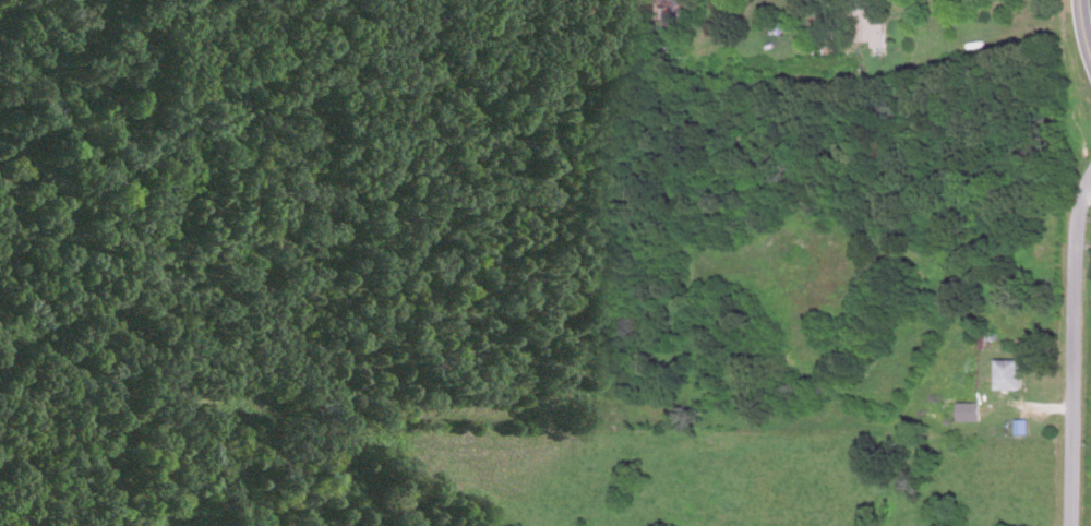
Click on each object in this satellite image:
building: (866, 31)
road: (1081, 33)
road: (1069, 344)
building: (1004, 376)
building: (963, 413)

